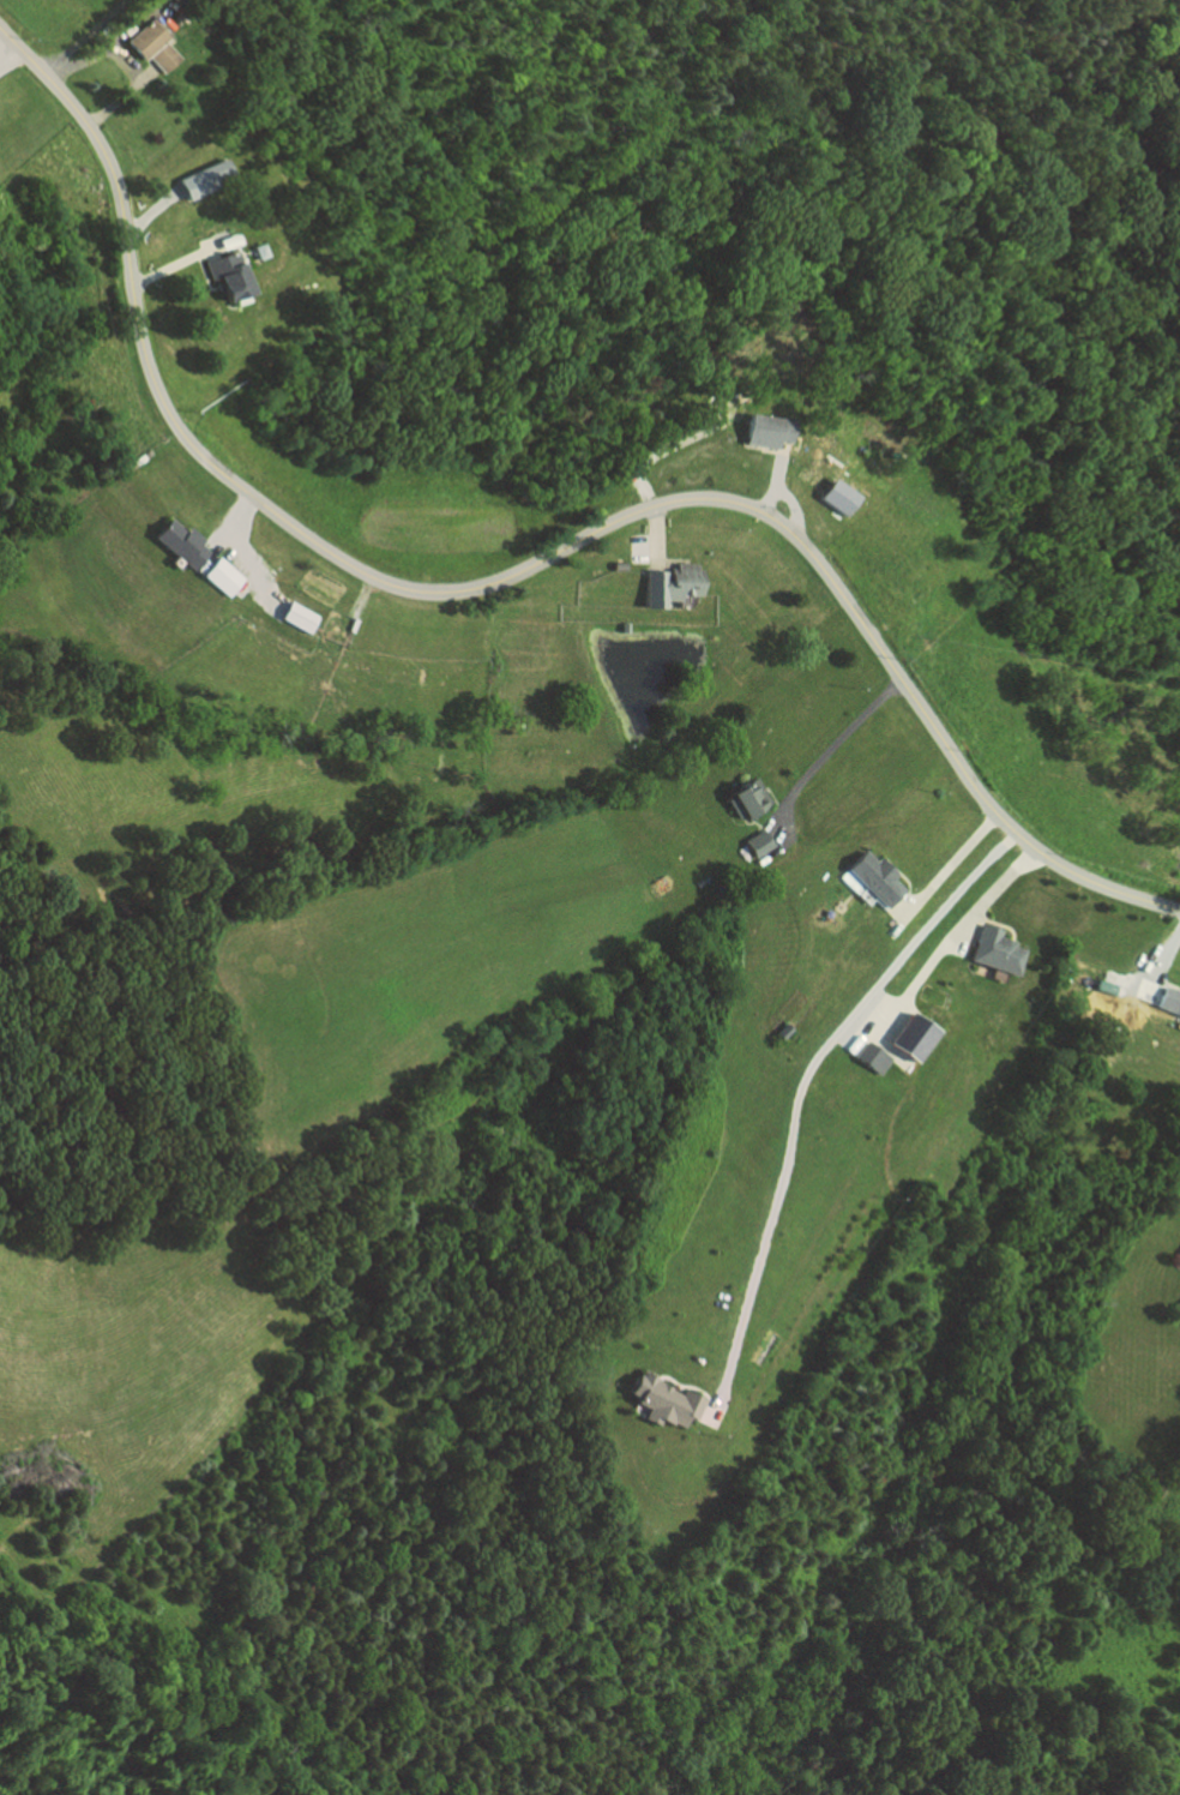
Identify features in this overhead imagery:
crop: (52, 20)
road: (134, 24)
road: (88, 30)
building: (153, 44)
road: (11, 58)
road: (127, 58)
road: (145, 73)
building: (199, 181)
road: (155, 209)
building: (234, 240)
building: (263, 250)
road: (180, 264)
building: (234, 277)
building: (764, 430)
road: (663, 448)
road: (766, 450)
road: (771, 475)
road: (791, 504)
road: (229, 520)
road: (656, 536)
building: (187, 542)
road: (252, 565)
road: (522, 569)
building: (225, 575)
building: (673, 583)
building: (302, 616)
road: (825, 751)
building: (747, 800)
building: (757, 842)
road: (947, 863)
building: (877, 878)
road: (950, 938)
building: (999, 950)
road: (1156, 962)
building: (1169, 999)
building: (904, 1037)
building: (866, 1056)
road: (797, 1091)
building: (1176, 1313)
building: (656, 1401)

